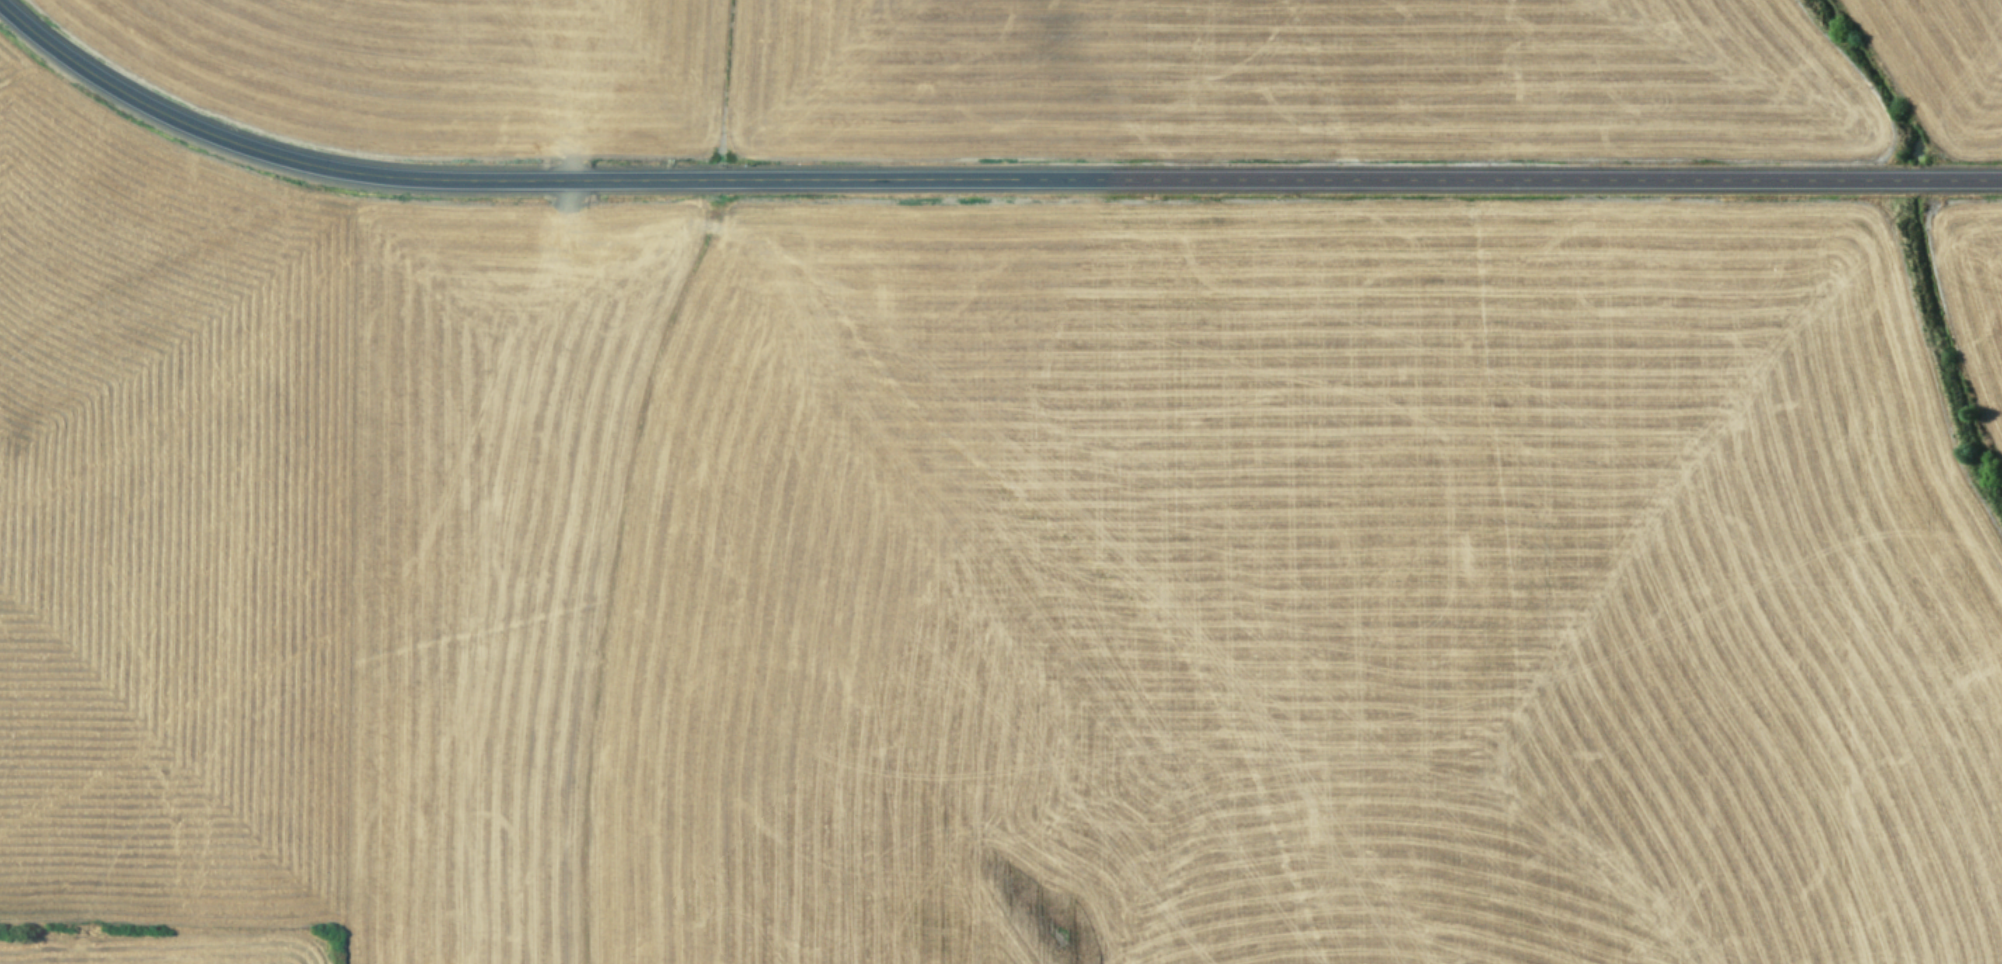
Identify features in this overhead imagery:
road: (977, 178)
crop: (1001, 482)

